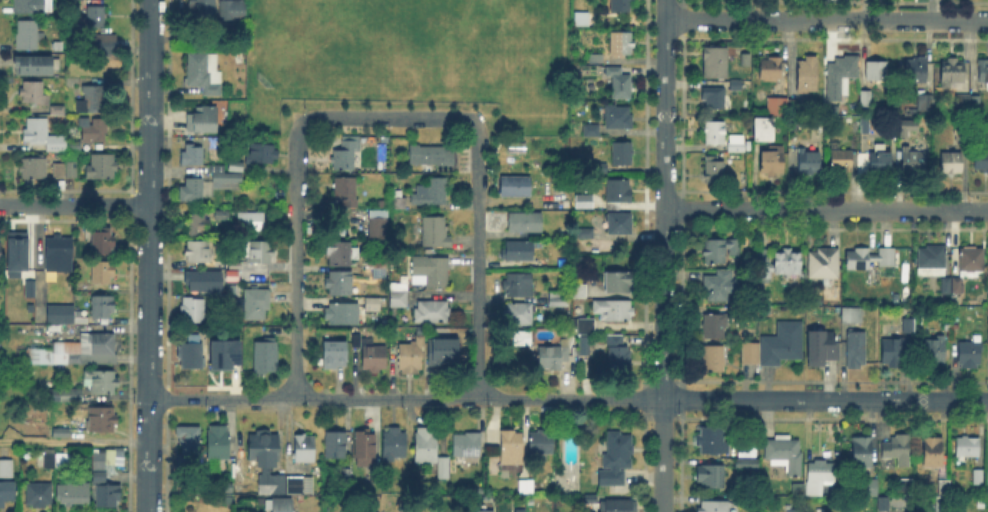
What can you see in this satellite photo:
building: (715, 1)
building: (622, 6)
building: (32, 7)
building: (202, 9)
building: (232, 12)
building: (96, 20)
building: (583, 21)
road: (827, 21)
park: (402, 33)
building: (27, 35)
building: (104, 43)
building: (621, 45)
building: (597, 58)
building: (32, 64)
building: (716, 65)
building: (876, 68)
building: (771, 70)
building: (917, 70)
building: (983, 72)
building: (205, 73)
building: (952, 74)
building: (807, 77)
building: (841, 78)
building: (71, 80)
building: (617, 82)
building: (739, 86)
building: (34, 95)
building: (93, 100)
building: (716, 100)
building: (866, 100)
building: (925, 101)
road: (151, 102)
building: (962, 102)
building: (976, 106)
building: (775, 107)
building: (58, 111)
road: (300, 111)
road: (482, 111)
building: (206, 118)
road: (387, 118)
building: (616, 118)
building: (903, 126)
building: (864, 128)
building: (961, 129)
building: (93, 131)
building: (591, 131)
building: (763, 133)
building: (43, 137)
building: (723, 138)
building: (74, 147)
building: (192, 152)
building: (258, 152)
building: (347, 156)
building: (431, 157)
building: (624, 157)
building: (841, 161)
building: (982, 161)
building: (808, 163)
building: (880, 163)
building: (912, 163)
building: (233, 164)
building: (771, 164)
building: (952, 164)
building: (599, 167)
building: (59, 169)
building: (73, 170)
building: (102, 170)
building: (33, 171)
building: (715, 174)
building: (227, 182)
building: (515, 188)
building: (191, 189)
building: (346, 189)
building: (619, 193)
building: (431, 194)
road: (665, 199)
building: (398, 200)
building: (581, 200)
road: (75, 205)
road: (826, 209)
building: (222, 216)
building: (248, 219)
building: (525, 220)
building: (375, 223)
building: (197, 224)
building: (620, 225)
building: (585, 232)
building: (435, 233)
building: (103, 246)
building: (79, 247)
building: (15, 250)
building: (720, 251)
building: (518, 253)
building: (200, 255)
building: (259, 255)
building: (341, 255)
building: (58, 256)
road: (478, 259)
road: (297, 260)
building: (870, 260)
building: (973, 262)
building: (932, 263)
building: (788, 264)
building: (824, 267)
building: (431, 269)
building: (102, 275)
building: (204, 281)
building: (340, 283)
building: (620, 284)
building: (518, 286)
building: (719, 286)
building: (27, 287)
building: (946, 287)
building: (957, 287)
building: (580, 293)
building: (399, 300)
building: (557, 300)
building: (957, 300)
road: (149, 302)
building: (369, 302)
building: (944, 302)
building: (254, 303)
building: (103, 308)
building: (193, 312)
building: (432, 313)
building: (614, 314)
building: (519, 315)
building: (64, 316)
building: (342, 317)
building: (853, 318)
building: (908, 328)
building: (715, 329)
building: (947, 329)
building: (517, 343)
building: (586, 343)
building: (782, 345)
building: (821, 346)
building: (855, 347)
building: (987, 347)
building: (444, 349)
building: (73, 352)
building: (935, 352)
building: (222, 353)
building: (369, 354)
building: (618, 354)
building: (895, 354)
building: (749, 356)
building: (410, 357)
building: (970, 357)
building: (335, 358)
building: (555, 358)
building: (265, 359)
building: (190, 360)
building: (714, 362)
building: (101, 384)
building: (64, 393)
road: (406, 399)
road: (825, 401)
building: (101, 422)
building: (61, 432)
building: (217, 440)
road: (74, 441)
building: (541, 444)
building: (712, 444)
building: (468, 445)
building: (188, 446)
building: (394, 446)
building: (335, 449)
building: (511, 449)
building: (747, 449)
building: (968, 449)
building: (304, 450)
building: (364, 450)
building: (898, 452)
building: (430, 453)
building: (934, 454)
road: (148, 455)
road: (663, 456)
building: (785, 456)
building: (863, 456)
building: (617, 459)
building: (46, 460)
building: (64, 462)
building: (747, 466)
building: (273, 469)
building: (6, 471)
building: (820, 475)
building: (375, 477)
building: (105, 478)
building: (979, 479)
building: (711, 480)
building: (526, 488)
building: (873, 488)
building: (415, 489)
building: (798, 490)
building: (946, 490)
building: (6, 495)
building: (72, 495)
building: (39, 496)
building: (592, 500)
building: (883, 503)
building: (281, 504)
building: (943, 505)
building: (618, 507)
building: (715, 507)
building: (517, 509)
building: (790, 509)
building: (479, 510)

